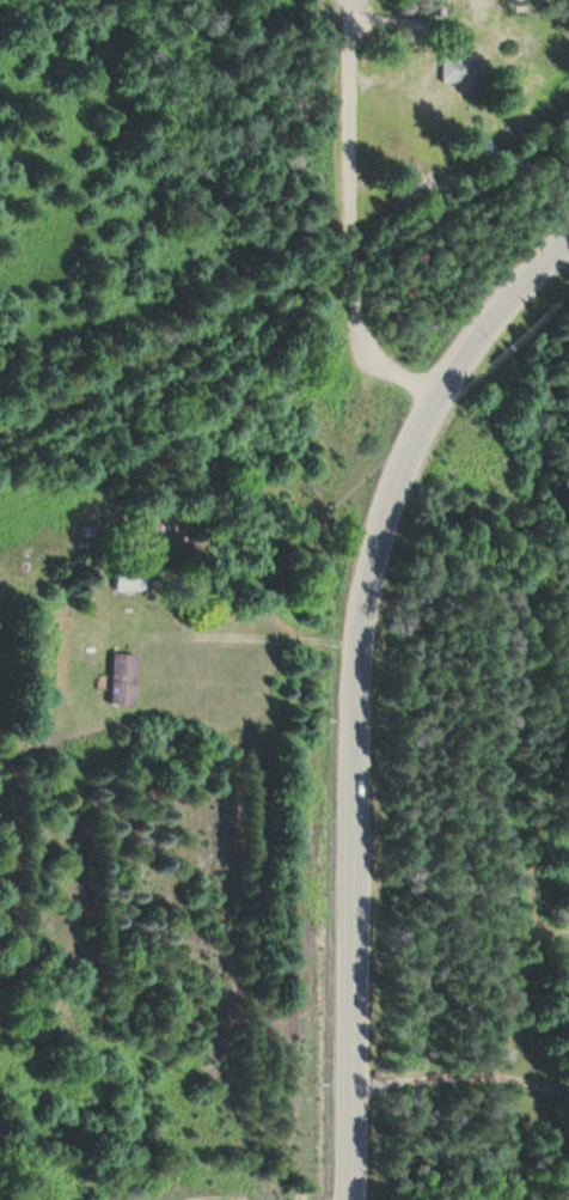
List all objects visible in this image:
road: (347, 223)
road: (290, 297)
building: (130, 580)
building: (126, 678)
road: (350, 688)

